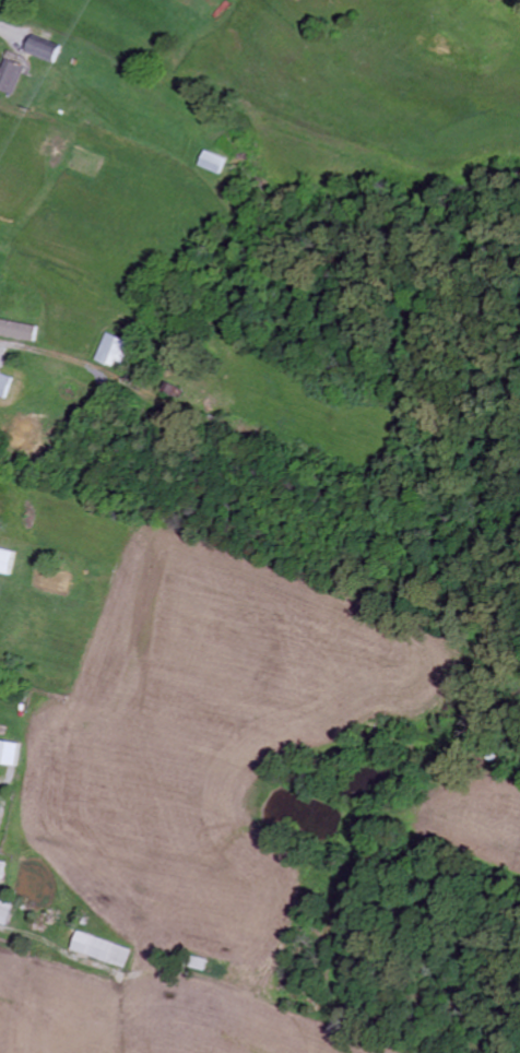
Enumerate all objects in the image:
building: (42, 50)
building: (10, 73)
building: (212, 164)
building: (17, 331)
building: (111, 351)
building: (3, 386)
building: (5, 563)
building: (9, 754)
building: (1, 868)
building: (4, 913)
building: (101, 950)

